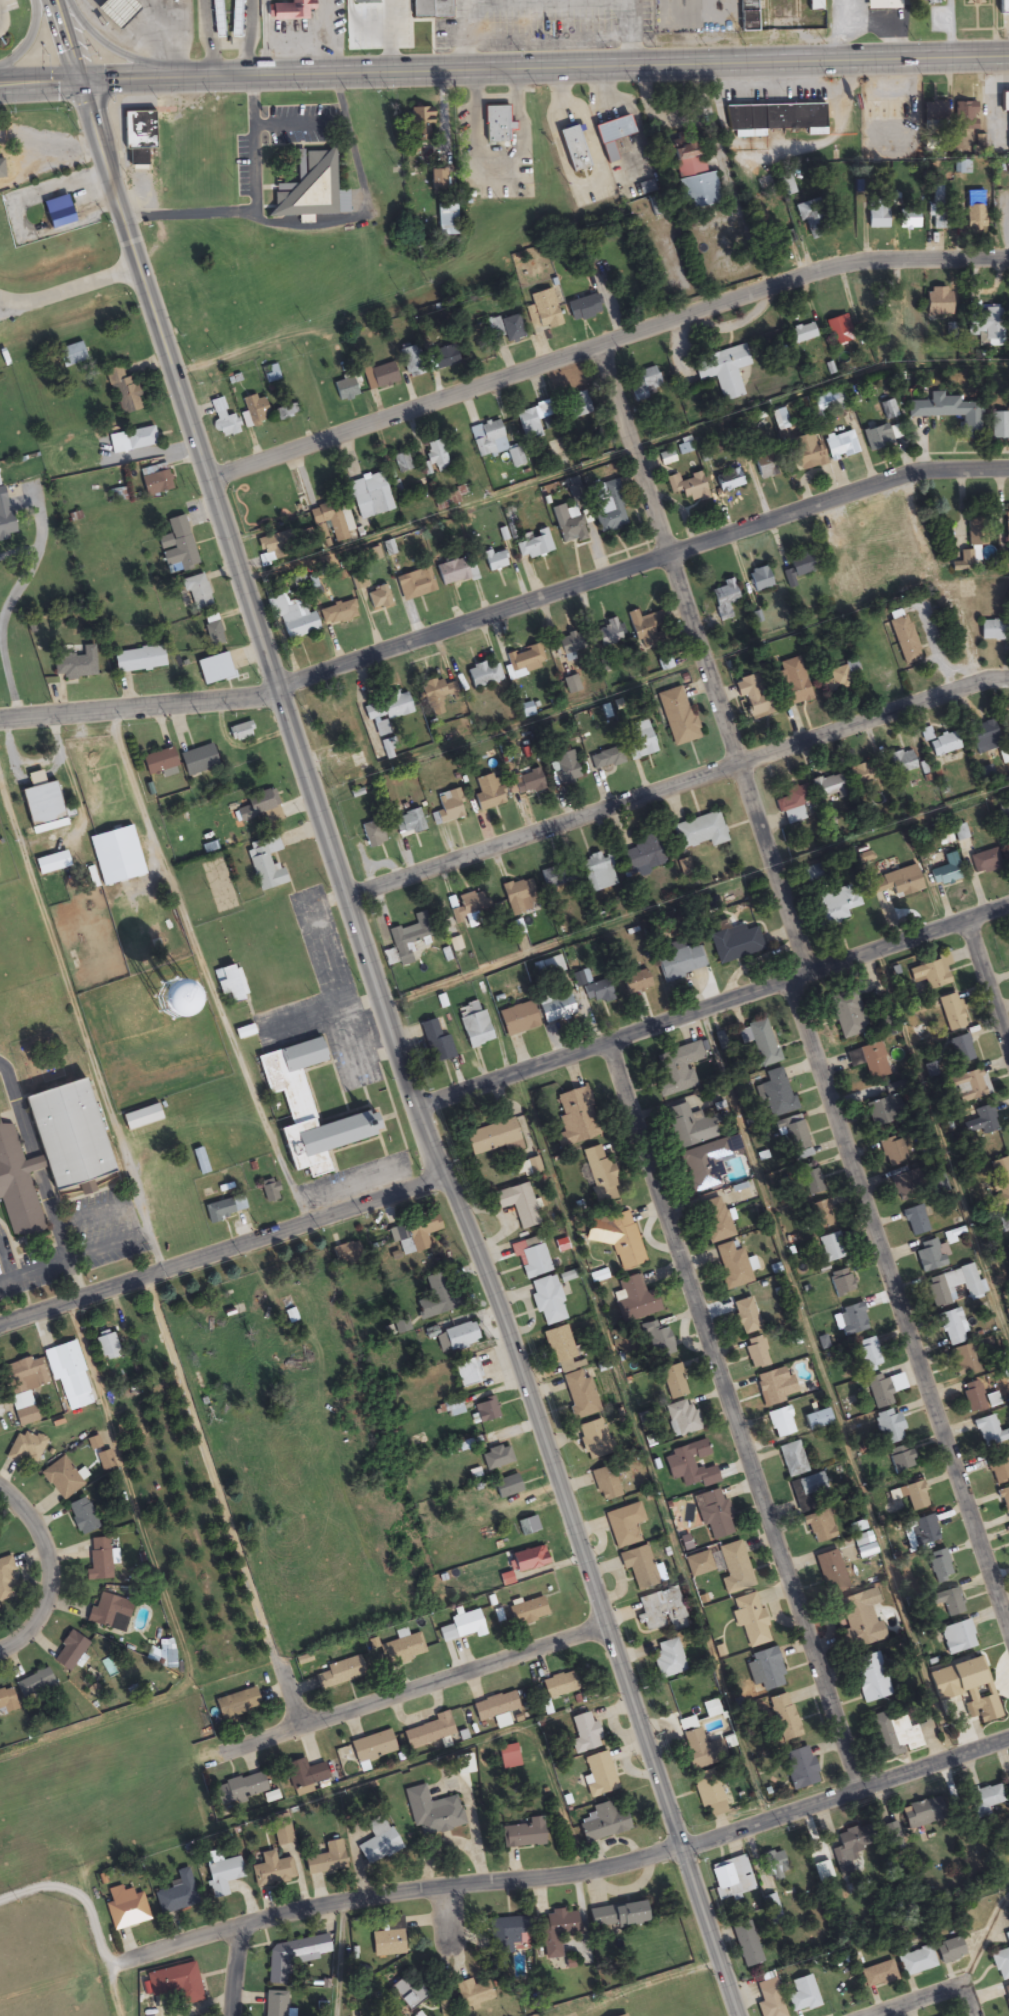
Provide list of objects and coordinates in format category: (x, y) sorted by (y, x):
building: (927, 0)
building: (881, 4)
building: (814, 5)
building: (1002, 8)
building: (214, 9)
building: (430, 9)
building: (291, 10)
building: (115, 12)
building: (745, 15)
building: (234, 18)
building: (390, 21)
road: (29, 39)
road: (69, 40)
road: (112, 52)
road: (594, 65)
road: (130, 79)
traffic signals: (82, 81)
road: (41, 83)
building: (1003, 101)
building: (933, 114)
building: (964, 116)
building: (774, 119)
building: (419, 122)
building: (495, 125)
building: (610, 131)
building: (570, 151)
building: (691, 177)
building: (784, 186)
building: (311, 188)
building: (936, 210)
building: (973, 211)
building: (55, 213)
building: (877, 215)
building: (446, 220)
building: (810, 220)
building: (907, 220)
building: (783, 240)
road: (932, 254)
road: (71, 288)
building: (936, 302)
road: (14, 307)
building: (582, 307)
building: (542, 311)
building: (986, 327)
building: (507, 329)
building: (801, 330)
building: (838, 331)
building: (443, 359)
building: (410, 362)
road: (536, 370)
building: (723, 371)
building: (269, 375)
building: (382, 376)
building: (645, 385)
road: (817, 388)
building: (343, 390)
building: (124, 394)
building: (827, 405)
building: (577, 407)
building: (887, 410)
building: (253, 411)
building: (285, 413)
building: (950, 413)
building: (223, 420)
building: (778, 420)
building: (531, 424)
building: (999, 426)
building: (876, 438)
building: (488, 439)
building: (131, 441)
building: (839, 447)
building: (804, 453)
building: (434, 457)
building: (666, 458)
building: (402, 463)
building: (766, 466)
road: (951, 470)
building: (158, 480)
building: (727, 482)
building: (687, 488)
building: (369, 497)
building: (611, 509)
building: (1006, 517)
building: (4, 518)
road: (440, 518)
building: (332, 521)
building: (567, 525)
building: (306, 539)
building: (179, 546)
building: (533, 546)
building: (269, 550)
building: (494, 561)
building: (962, 562)
building: (799, 565)
building: (450, 574)
building: (759, 579)
building: (414, 585)
building: (196, 593)
building: (378, 599)
building: (724, 599)
building: (337, 615)
building: (289, 620)
building: (641, 625)
road: (453, 627)
building: (991, 630)
building: (213, 635)
building: (609, 635)
building: (904, 640)
building: (568, 644)
building: (137, 661)
building: (523, 661)
building: (73, 663)
building: (213, 670)
building: (482, 675)
building: (836, 678)
road: (1000, 678)
building: (792, 681)
building: (436, 696)
building: (753, 699)
building: (385, 708)
building: (676, 716)
road: (508, 727)
building: (342, 730)
building: (239, 732)
building: (984, 737)
building: (638, 740)
building: (940, 743)
building: (604, 759)
building: (197, 761)
building: (902, 762)
building: (159, 764)
building: (563, 769)
building: (860, 774)
building: (526, 782)
building: (825, 786)
road: (669, 788)
building: (486, 793)
building: (793, 805)
building: (447, 806)
building: (1002, 806)
building: (259, 807)
building: (42, 808)
building: (408, 824)
building: (699, 831)
building: (371, 835)
building: (965, 851)
building: (110, 856)
building: (642, 857)
building: (264, 864)
building: (597, 872)
building: (943, 875)
building: (555, 880)
building: (893, 884)
road: (694, 896)
building: (517, 897)
building: (837, 903)
building: (467, 907)
building: (410, 938)
building: (734, 943)
building: (679, 963)
building: (549, 966)
building: (929, 975)
building: (580, 978)
building: (635, 982)
building: (231, 984)
road: (987, 984)
road: (802, 990)
building: (596, 993)
building: (142, 996)
building: (554, 1007)
road: (713, 1008)
building: (950, 1012)
building: (847, 1013)
building: (516, 1019)
building: (472, 1025)
building: (435, 1043)
building: (762, 1043)
building: (959, 1049)
road: (397, 1052)
building: (868, 1060)
building: (677, 1069)
building: (274, 1077)
building: (967, 1086)
building: (776, 1094)
building: (880, 1109)
building: (139, 1117)
building: (575, 1117)
building: (985, 1120)
building: (690, 1127)
building: (323, 1135)
building: (794, 1137)
building: (493, 1139)
building: (892, 1150)
building: (48, 1151)
road: (942, 1151)
building: (704, 1164)
building: (599, 1174)
building: (809, 1179)
building: (999, 1181)
building: (903, 1182)
building: (935, 1184)
building: (268, 1191)
building: (518, 1205)
building: (224, 1209)
building: (821, 1214)
building: (714, 1220)
building: (915, 1220)
building: (1003, 1223)
building: (412, 1234)
building: (616, 1238)
building: (830, 1247)
road: (222, 1249)
building: (929, 1256)
building: (533, 1260)
building: (730, 1266)
building: (841, 1282)
building: (952, 1286)
building: (632, 1294)
building: (436, 1295)
building: (547, 1301)
building: (291, 1315)
building: (745, 1316)
building: (852, 1319)
building: (952, 1327)
building: (459, 1337)
building: (659, 1344)
building: (558, 1345)
building: (107, 1347)
building: (755, 1353)
building: (869, 1354)
building: (964, 1361)
building: (72, 1370)
building: (467, 1373)
building: (672, 1382)
building: (773, 1387)
building: (22, 1388)
building: (882, 1389)
building: (579, 1395)
building: (977, 1398)
building: (453, 1408)
building: (484, 1410)
road: (730, 1418)
building: (681, 1419)
building: (816, 1420)
building: (780, 1423)
building: (889, 1428)
building: (988, 1432)
building: (591, 1438)
building: (24, 1448)
building: (495, 1458)
building: (792, 1459)
building: (900, 1459)
building: (688, 1463)
building: (999, 1471)
building: (62, 1479)
building: (604, 1484)
building: (505, 1487)
building: (806, 1491)
building: (912, 1496)
building: (1005, 1502)
road: (222, 1506)
building: (712, 1515)
building: (81, 1517)
building: (623, 1525)
building: (527, 1526)
building: (816, 1528)
building: (921, 1531)
building: (528, 1559)
building: (98, 1561)
building: (939, 1566)
building: (638, 1567)
building: (733, 1569)
road: (49, 1571)
building: (831, 1572)
building: (5, 1582)
building: (946, 1601)
building: (661, 1610)
building: (526, 1612)
building: (109, 1613)
building: (749, 1620)
building: (859, 1621)
building: (460, 1626)
building: (956, 1637)
building: (401, 1650)
building: (69, 1652)
building: (667, 1659)
building: (765, 1671)
building: (337, 1674)
building: (969, 1674)
building: (869, 1678)
building: (38, 1684)
building: (558, 1685)
road: (412, 1696)
building: (8, 1700)
building: (236, 1705)
building: (493, 1707)
building: (982, 1709)
building: (784, 1717)
building: (429, 1732)
building: (892, 1732)
building: (583, 1733)
building: (695, 1741)
building: (372, 1747)
building: (800, 1768)
building: (598, 1775)
building: (298, 1776)
building: (1008, 1783)
building: (239, 1790)
building: (708, 1792)
building: (985, 1798)
building: (432, 1813)
building: (919, 1814)
building: (603, 1822)
building: (279, 1831)
building: (523, 1834)
building: (377, 1842)
building: (846, 1850)
building: (325, 1860)
building: (772, 1866)
building: (270, 1871)
road: (576, 1873)
building: (220, 1874)
building: (730, 1878)
building: (176, 1895)
building: (125, 1909)
building: (615, 1916)
building: (555, 1931)
building: (504, 1934)
building: (388, 1939)
building: (745, 1944)
building: (949, 1951)
building: (293, 1956)
building: (915, 1961)
building: (1000, 1965)
road: (233, 1972)
building: (877, 1975)
building: (175, 1984)
building: (406, 1992)
building: (471, 1993)
road: (933, 1994)
building: (802, 1995)
building: (1006, 1996)
building: (769, 2000)
building: (274, 2004)
building: (621, 2015)

